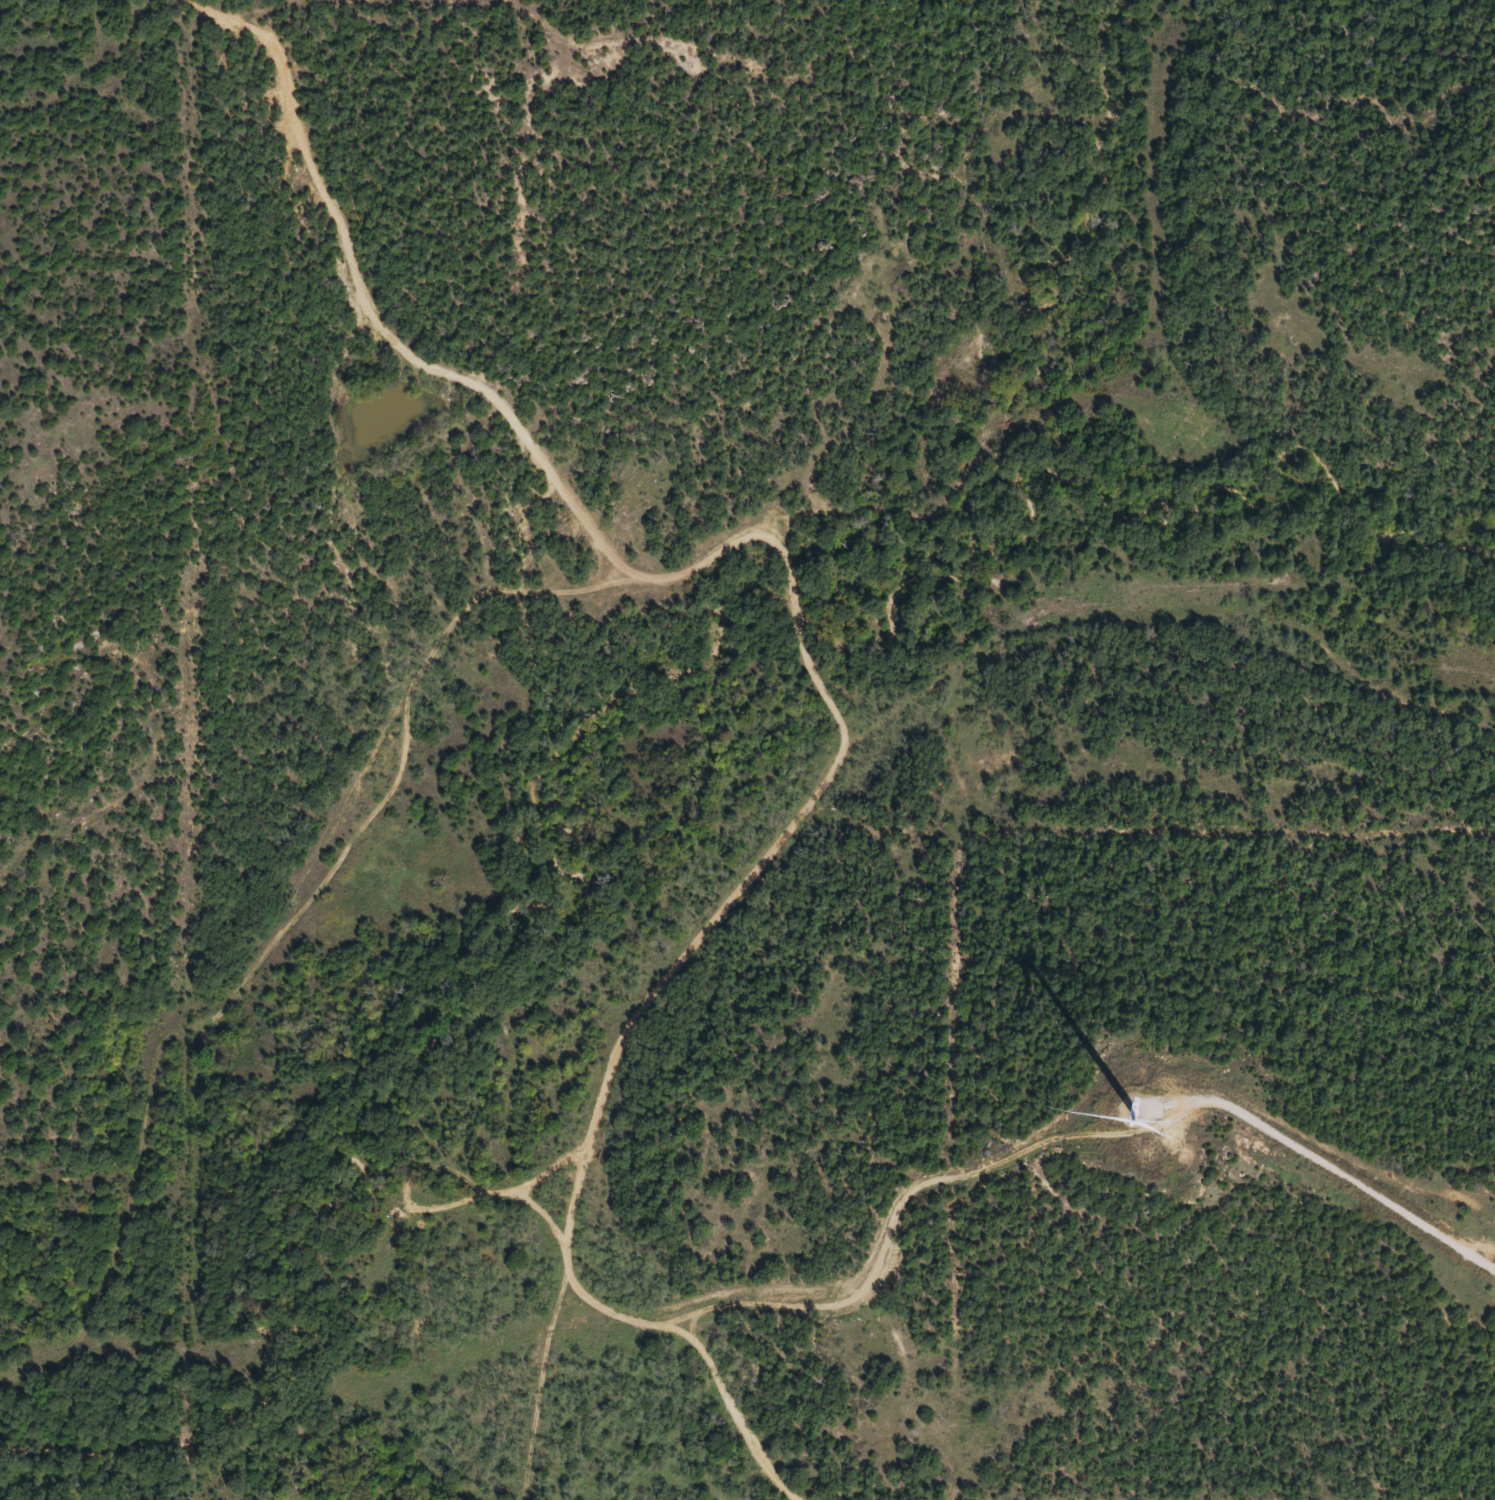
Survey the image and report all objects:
wind turbine: (1133, 1115)

